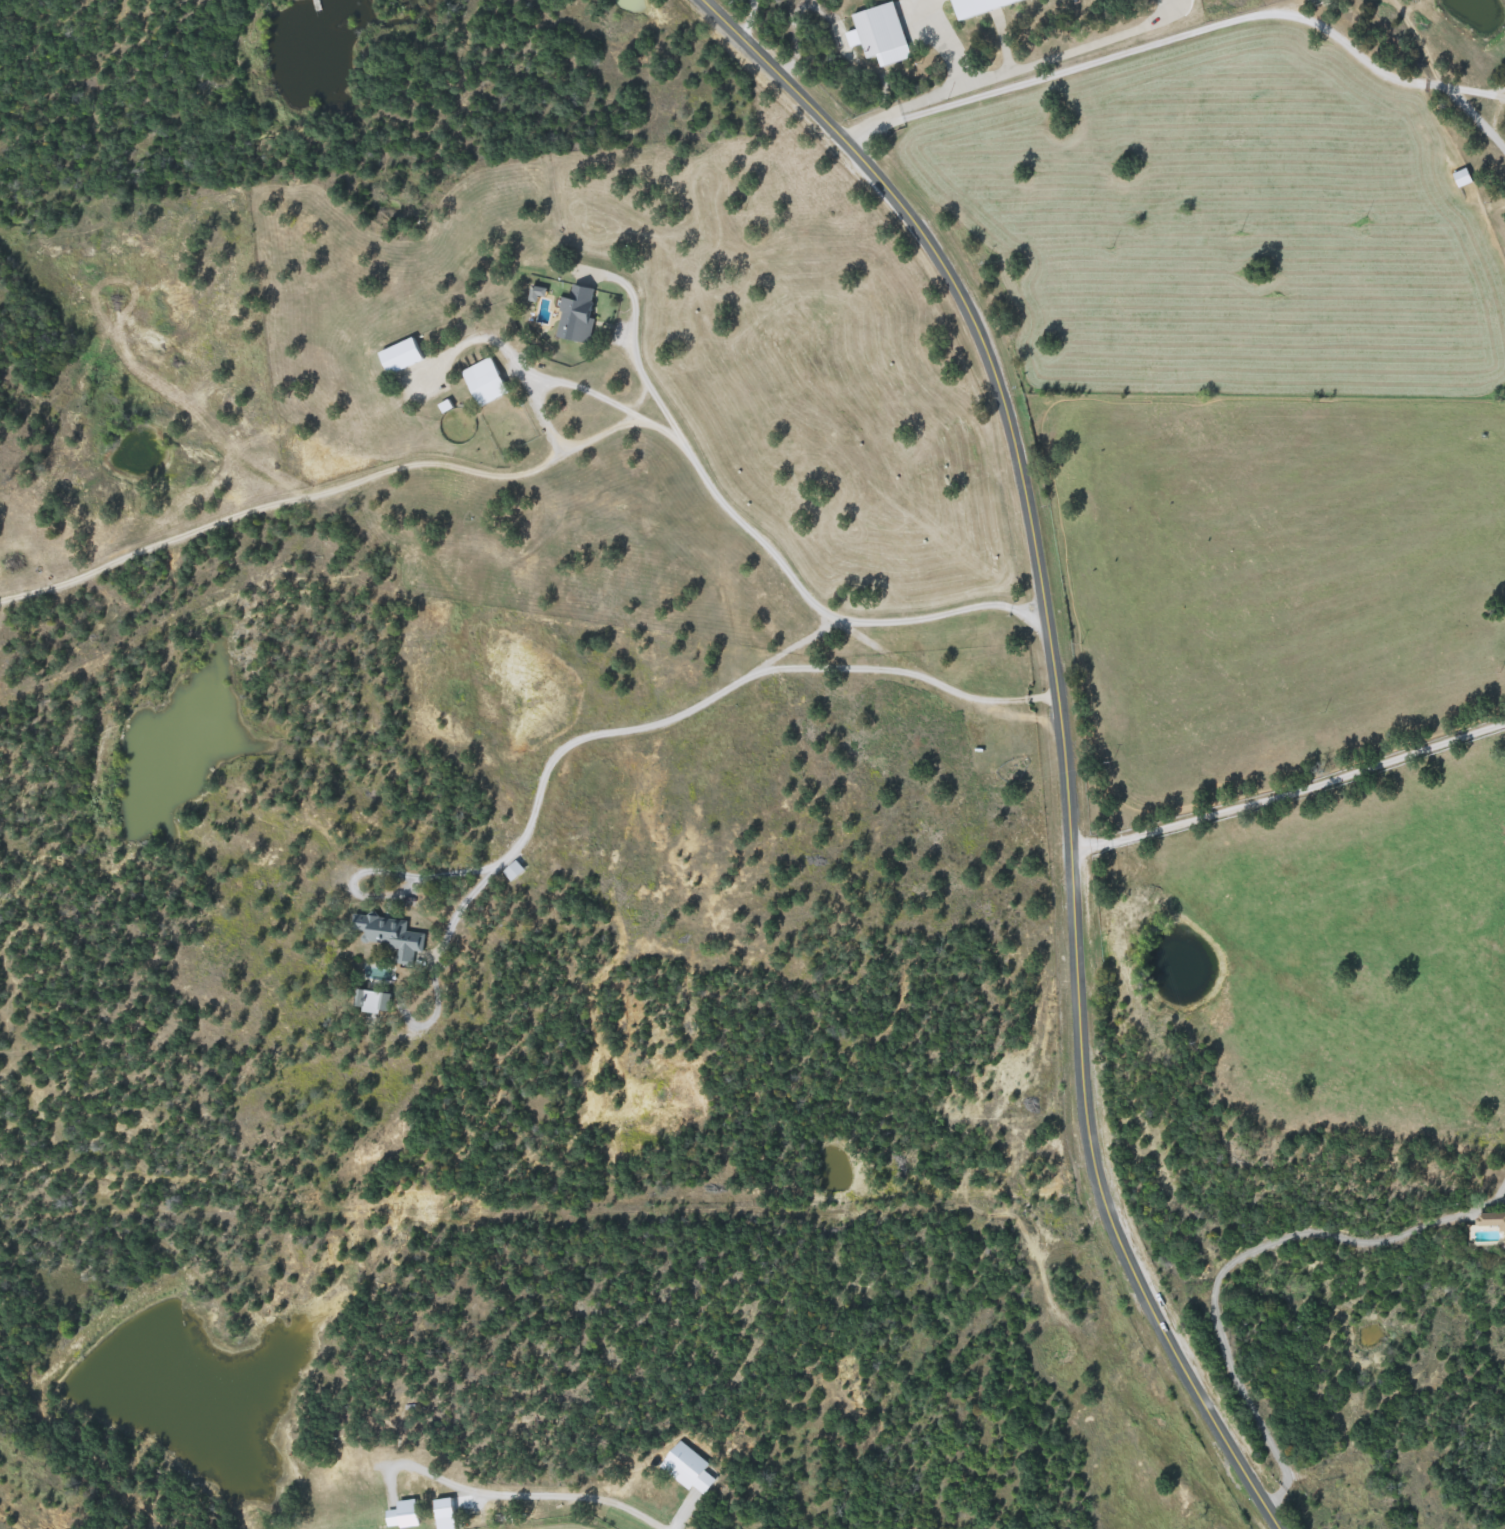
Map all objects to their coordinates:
building: (981, 6)
road: (748, 16)
building: (879, 30)
road: (945, 43)
road: (1075, 52)
road: (1063, 70)
road: (1413, 70)
road: (923, 100)
building: (580, 313)
building: (404, 355)
road: (629, 359)
building: (487, 381)
road: (365, 479)
road: (747, 527)
road: (713, 694)
road: (1063, 733)
road: (1290, 789)
building: (390, 935)
building: (371, 1001)
building: (1494, 1219)
road: (502, 1493)

